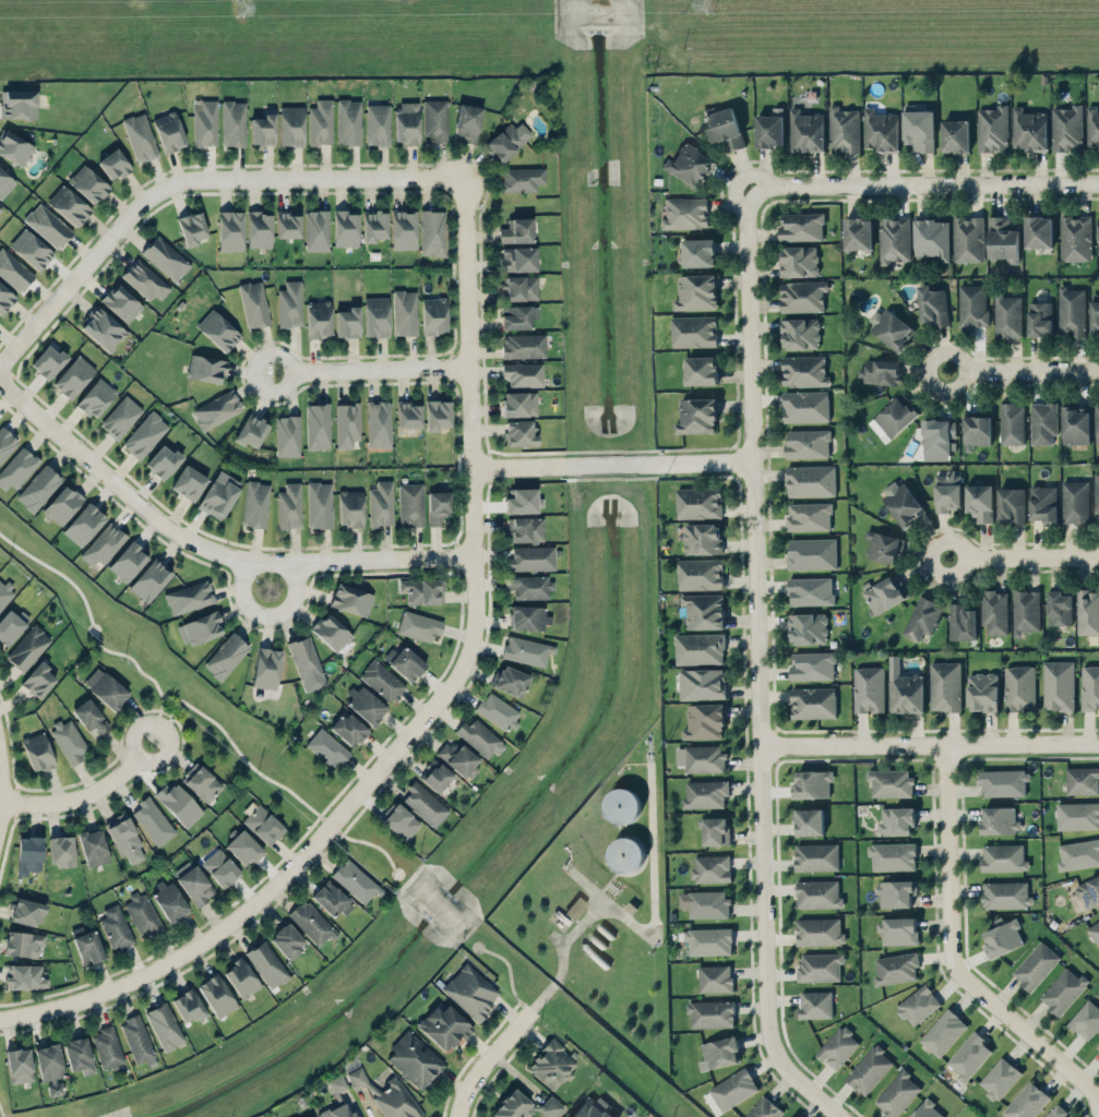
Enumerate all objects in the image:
power tower: (713, 4)
power tower: (237, 9)
building: (17, 104)
building: (435, 119)
building: (204, 122)
building: (320, 122)
building: (348, 122)
building: (406, 122)
building: (232, 123)
building: (468, 123)
building: (378, 124)
building: (291, 125)
building: (1092, 125)
building: (725, 128)
building: (771, 128)
building: (918, 128)
building: (1066, 128)
building: (992, 129)
building: (1029, 129)
building: (262, 130)
building: (805, 130)
building: (844, 130)
building: (881, 130)
building: (168, 132)
building: (955, 135)
building: (140, 137)
building: (507, 140)
building: (14, 147)
building: (114, 164)
building: (689, 165)
road: (193, 177)
building: (522, 179)
building: (4, 183)
building: (87, 184)
road: (922, 187)
building: (68, 205)
building: (0, 208)
building: (685, 213)
building: (287, 224)
building: (47, 226)
building: (373, 226)
building: (801, 226)
building: (191, 228)
building: (345, 228)
building: (259, 229)
building: (403, 229)
building: (229, 230)
building: (316, 230)
building: (516, 231)
building: (1038, 231)
building: (432, 232)
building: (857, 232)
building: (1075, 237)
building: (931, 238)
building: (968, 238)
building: (1098, 238)
building: (894, 239)
building: (1003, 239)
building: (31, 249)
building: (698, 252)
building: (165, 257)
building: (517, 259)
building: (798, 261)
building: (13, 271)
building: (145, 280)
building: (518, 288)
building: (696, 291)
building: (801, 296)
building: (120, 303)
building: (253, 303)
building: (289, 304)
building: (932, 304)
building: (972, 304)
building: (1072, 310)
building: (404, 312)
building: (1095, 314)
building: (433, 315)
building: (1007, 315)
building: (375, 316)
building: (517, 316)
building: (1039, 317)
building: (318, 319)
building: (347, 322)
building: (103, 328)
building: (891, 328)
building: (217, 331)
building: (694, 331)
building: (800, 333)
building: (523, 346)
building: (47, 361)
building: (205, 369)
road: (369, 369)
building: (701, 370)
road: (1023, 370)
building: (880, 371)
building: (523, 374)
building: (73, 376)
building: (96, 397)
building: (519, 404)
building: (805, 406)
building: (216, 410)
building: (408, 413)
building: (437, 415)
building: (696, 416)
building: (120, 417)
building: (894, 417)
building: (1042, 422)
building: (1097, 422)
building: (378, 423)
building: (1012, 423)
building: (347, 424)
building: (1076, 424)
building: (318, 425)
building: (977, 430)
building: (251, 431)
building: (519, 432)
building: (937, 434)
building: (145, 435)
building: (287, 436)
building: (5, 443)
building: (807, 443)
building: (163, 461)
road: (613, 464)
building: (17, 468)
building: (810, 480)
building: (189, 482)
building: (38, 489)
building: (947, 490)
building: (1096, 493)
building: (217, 497)
building: (523, 501)
building: (980, 501)
building: (1075, 501)
building: (698, 502)
building: (903, 502)
building: (1043, 503)
building: (62, 504)
building: (255, 504)
building: (319, 504)
building: (381, 504)
building: (410, 504)
building: (1012, 504)
building: (289, 506)
building: (438, 506)
building: (350, 508)
building: (809, 516)
building: (83, 524)
building: (524, 529)
building: (702, 538)
building: (103, 544)
building: (883, 545)
road: (207, 550)
building: (811, 553)
road: (1025, 557)
building: (531, 558)
building: (128, 561)
building: (700, 574)
building: (150, 580)
building: (530, 587)
building: (422, 590)
building: (810, 590)
building: (885, 592)
building: (4, 593)
building: (189, 597)
building: (350, 600)
building: (1059, 606)
building: (704, 610)
building: (993, 611)
building: (1025, 611)
building: (1087, 611)
road: (270, 613)
building: (527, 617)
building: (922, 617)
building: (960, 621)
building: (11, 625)
road: (758, 625)
building: (418, 626)
building: (808, 627)
building: (200, 628)
building: (331, 632)
building: (27, 648)
building: (700, 648)
building: (526, 650)
building: (225, 657)
building: (405, 662)
building: (306, 663)
building: (812, 664)
building: (265, 668)
building: (38, 680)
building: (382, 681)
building: (510, 681)
building: (702, 683)
building: (945, 685)
building: (1058, 685)
building: (1019, 687)
building: (1089, 687)
building: (106, 688)
building: (869, 688)
building: (904, 688)
building: (982, 690)
building: (813, 701)
building: (366, 705)
road: (430, 709)
building: (498, 711)
building: (91, 717)
road: (158, 719)
building: (705, 721)
building: (348, 729)
building: (479, 737)
building: (69, 741)
road: (931, 745)
building: (326, 748)
building: (37, 752)
road: (240, 752)
building: (457, 758)
building: (705, 758)
building: (434, 774)
building: (1082, 780)
building: (201, 782)
building: (891, 782)
building: (1003, 782)
building: (812, 783)
road: (0, 789)
building: (705, 793)
road: (85, 794)
building: (178, 804)
building: (423, 804)
building: (622, 805)
building: (1077, 815)
building: (999, 819)
building: (399, 820)
building: (896, 820)
building: (153, 821)
building: (809, 821)
building: (263, 825)
building: (715, 830)
building: (124, 838)
building: (93, 846)
building: (242, 846)
building: (60, 851)
building: (625, 853)
building: (1078, 854)
building: (28, 855)
building: (892, 855)
building: (816, 856)
building: (1003, 856)
building: (220, 868)
building: (710, 868)
building: (355, 881)
building: (193, 884)
building: (1089, 891)
building: (895, 892)
building: (817, 893)
building: (1005, 893)
building: (331, 899)
building: (169, 901)
building: (705, 902)
road: (653, 904)
building: (575, 908)
building: (26, 912)
building: (142, 914)
road: (583, 922)
building: (311, 923)
building: (116, 927)
building: (897, 929)
building: (819, 930)
building: (1095, 930)
building: (1002, 936)
building: (286, 940)
building: (708, 940)
building: (23, 944)
building: (86, 945)
road: (956, 950)
road: (563, 956)
building: (266, 964)
building: (1036, 964)
building: (820, 966)
building: (896, 968)
road: (510, 972)
building: (24, 976)
building: (715, 977)
building: (240, 978)
building: (1063, 989)
building: (470, 992)
building: (216, 995)
road: (543, 996)
building: (815, 1004)
building: (918, 1004)
building: (187, 1006)
building: (710, 1012)
building: (1086, 1019)
building: (164, 1026)
building: (443, 1026)
building: (943, 1031)
building: (136, 1038)
building: (838, 1046)
building: (107, 1047)
building: (1098, 1049)
building: (719, 1053)
building: (79, 1055)
building: (969, 1055)
building: (414, 1059)
road: (490, 1059)
building: (48, 1061)
building: (19, 1065)
building: (551, 1065)
building: (869, 1069)
building: (999, 1078)
building: (55, 1089)
building: (733, 1089)
road: (812, 1089)
building: (897, 1093)
building: (386, 1095)
building: (1026, 1101)
building: (524, 1106)
building: (593, 1108)
building: (927, 1110)
building: (337, 1112)
building: (1056, 1112)
building: (309, 1116)

